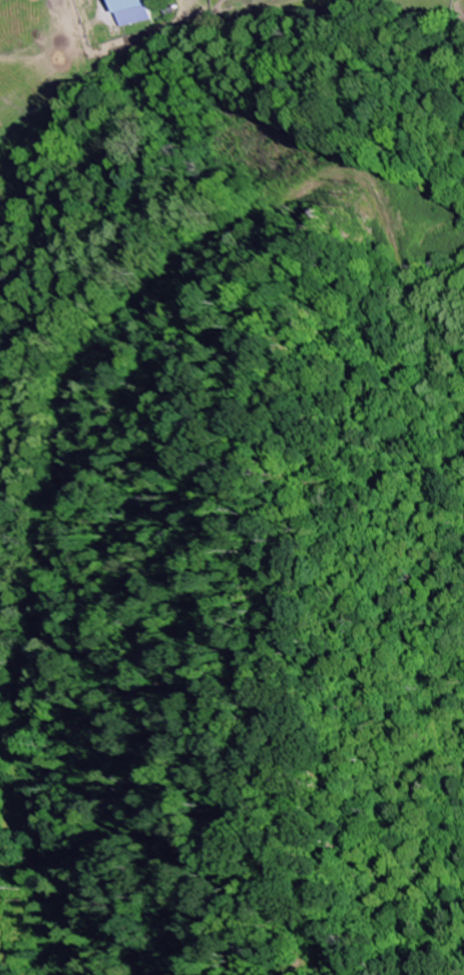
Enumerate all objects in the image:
building: (131, 11)

